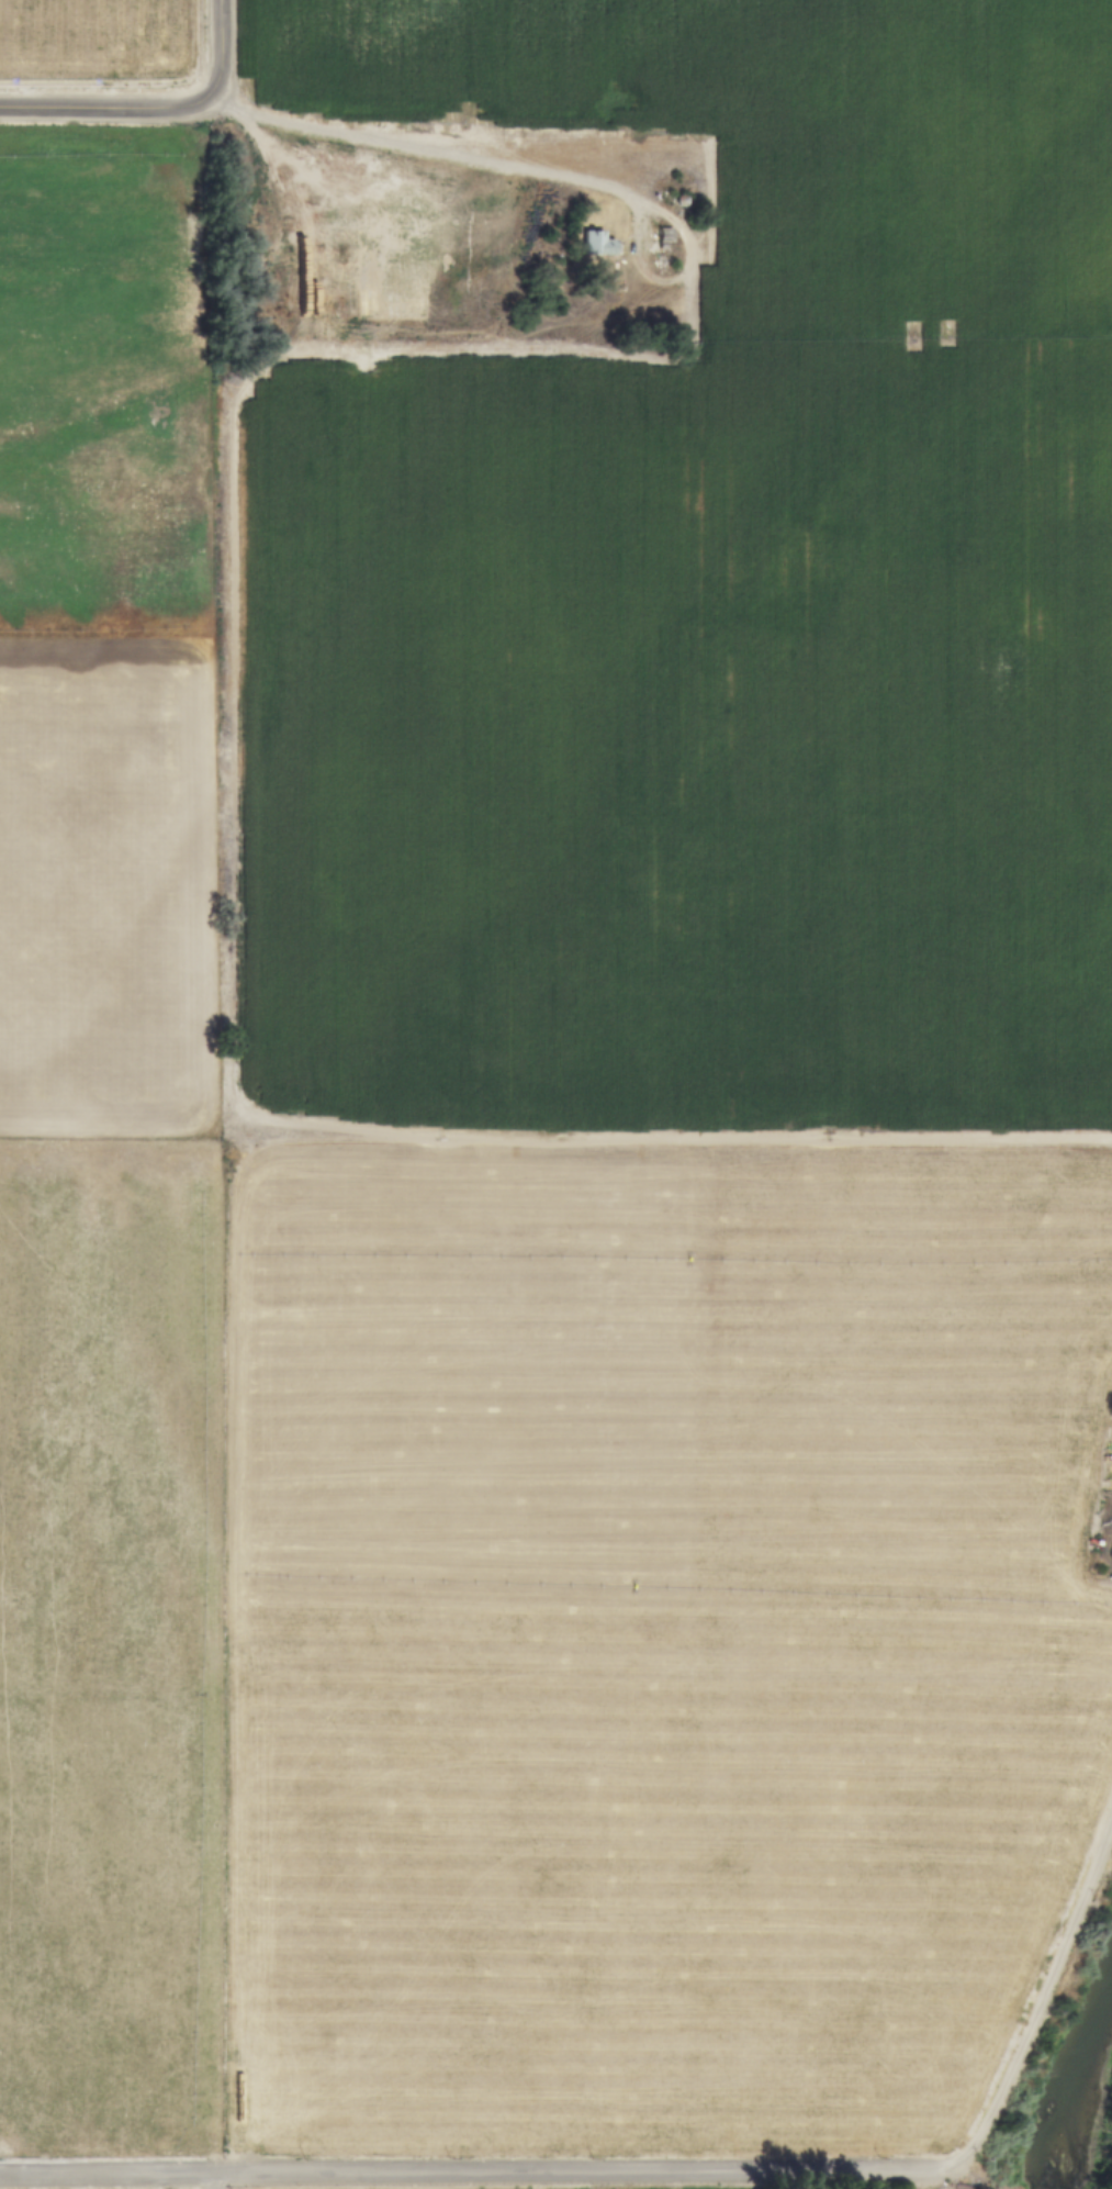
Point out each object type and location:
road: (154, 107)
road: (526, 170)
building: (595, 246)
building: (1110, 1555)
road: (672, 2175)
road: (215, 2182)

